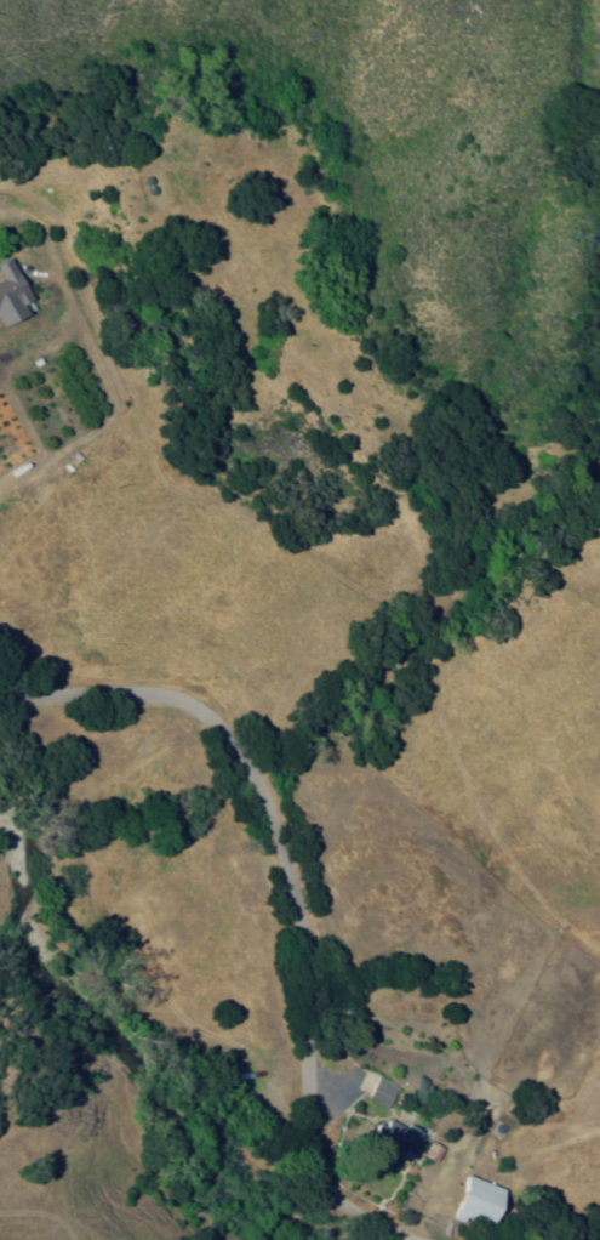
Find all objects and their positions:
building: (13, 291)
road: (297, 891)
building: (383, 1099)
building: (402, 1139)
building: (482, 1205)
road: (575, 1235)

